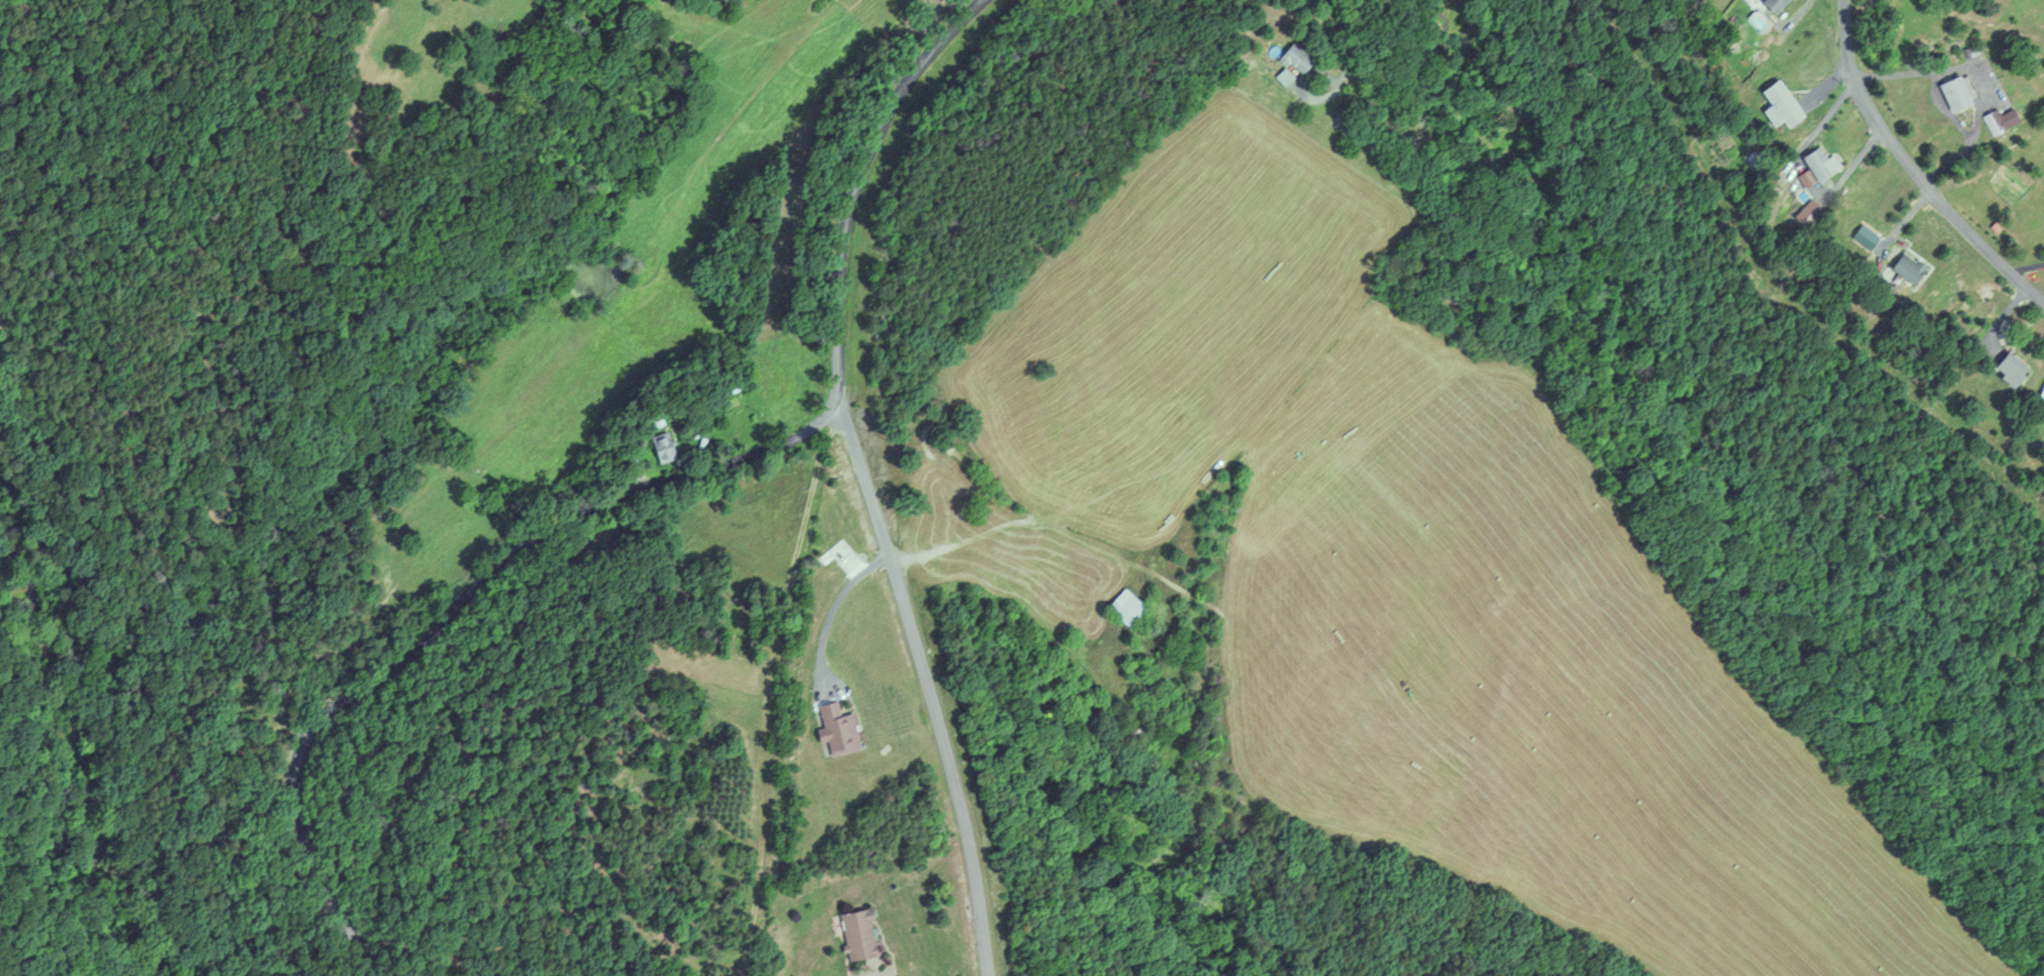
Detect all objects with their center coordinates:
building: (1770, 4)
building: (1292, 58)
road: (1343, 65)
building: (1280, 76)
building: (1953, 92)
building: (1777, 103)
building: (1999, 119)
building: (1812, 166)
road: (1912, 168)
building: (1905, 267)
building: (2007, 367)
building: (661, 447)
road: (660, 529)
building: (1122, 609)
road: (929, 691)
building: (836, 729)
building: (854, 932)

